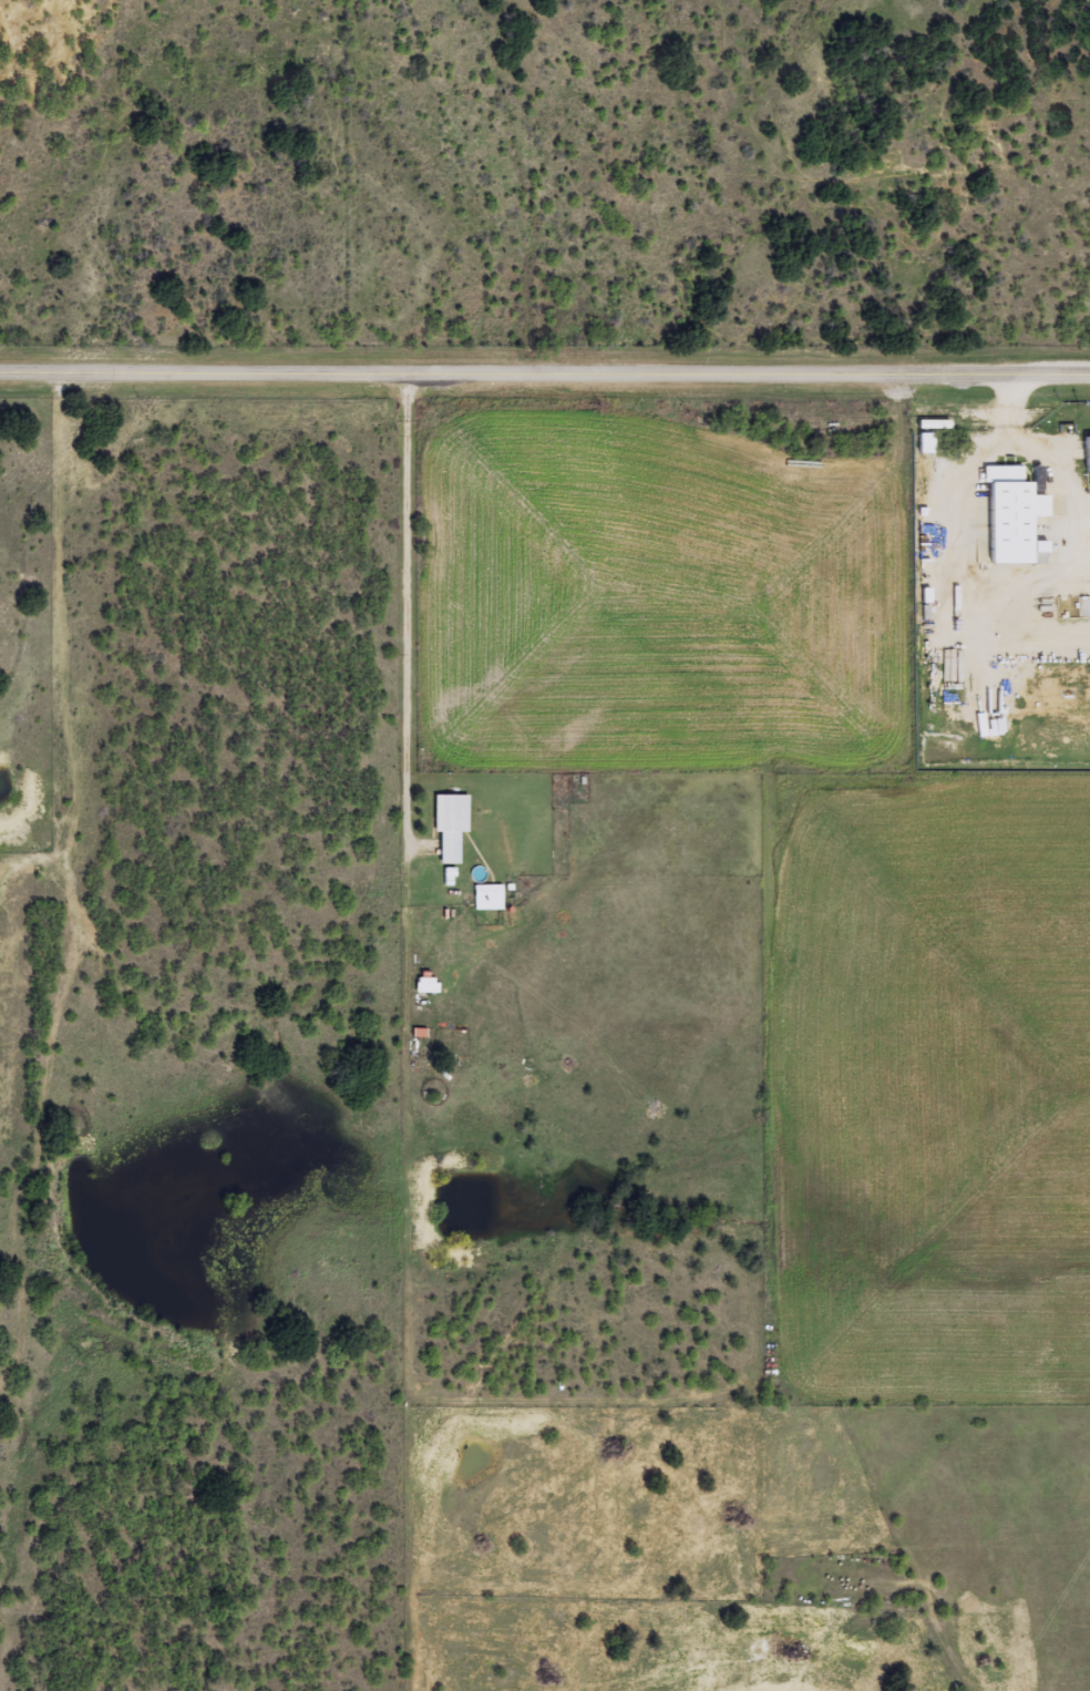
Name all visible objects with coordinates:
road: (545, 372)
building: (935, 423)
building: (926, 442)
building: (1089, 451)
building: (1014, 514)
road: (89, 626)
building: (451, 824)
building: (489, 898)
building: (428, 984)
road: (482, 1157)

